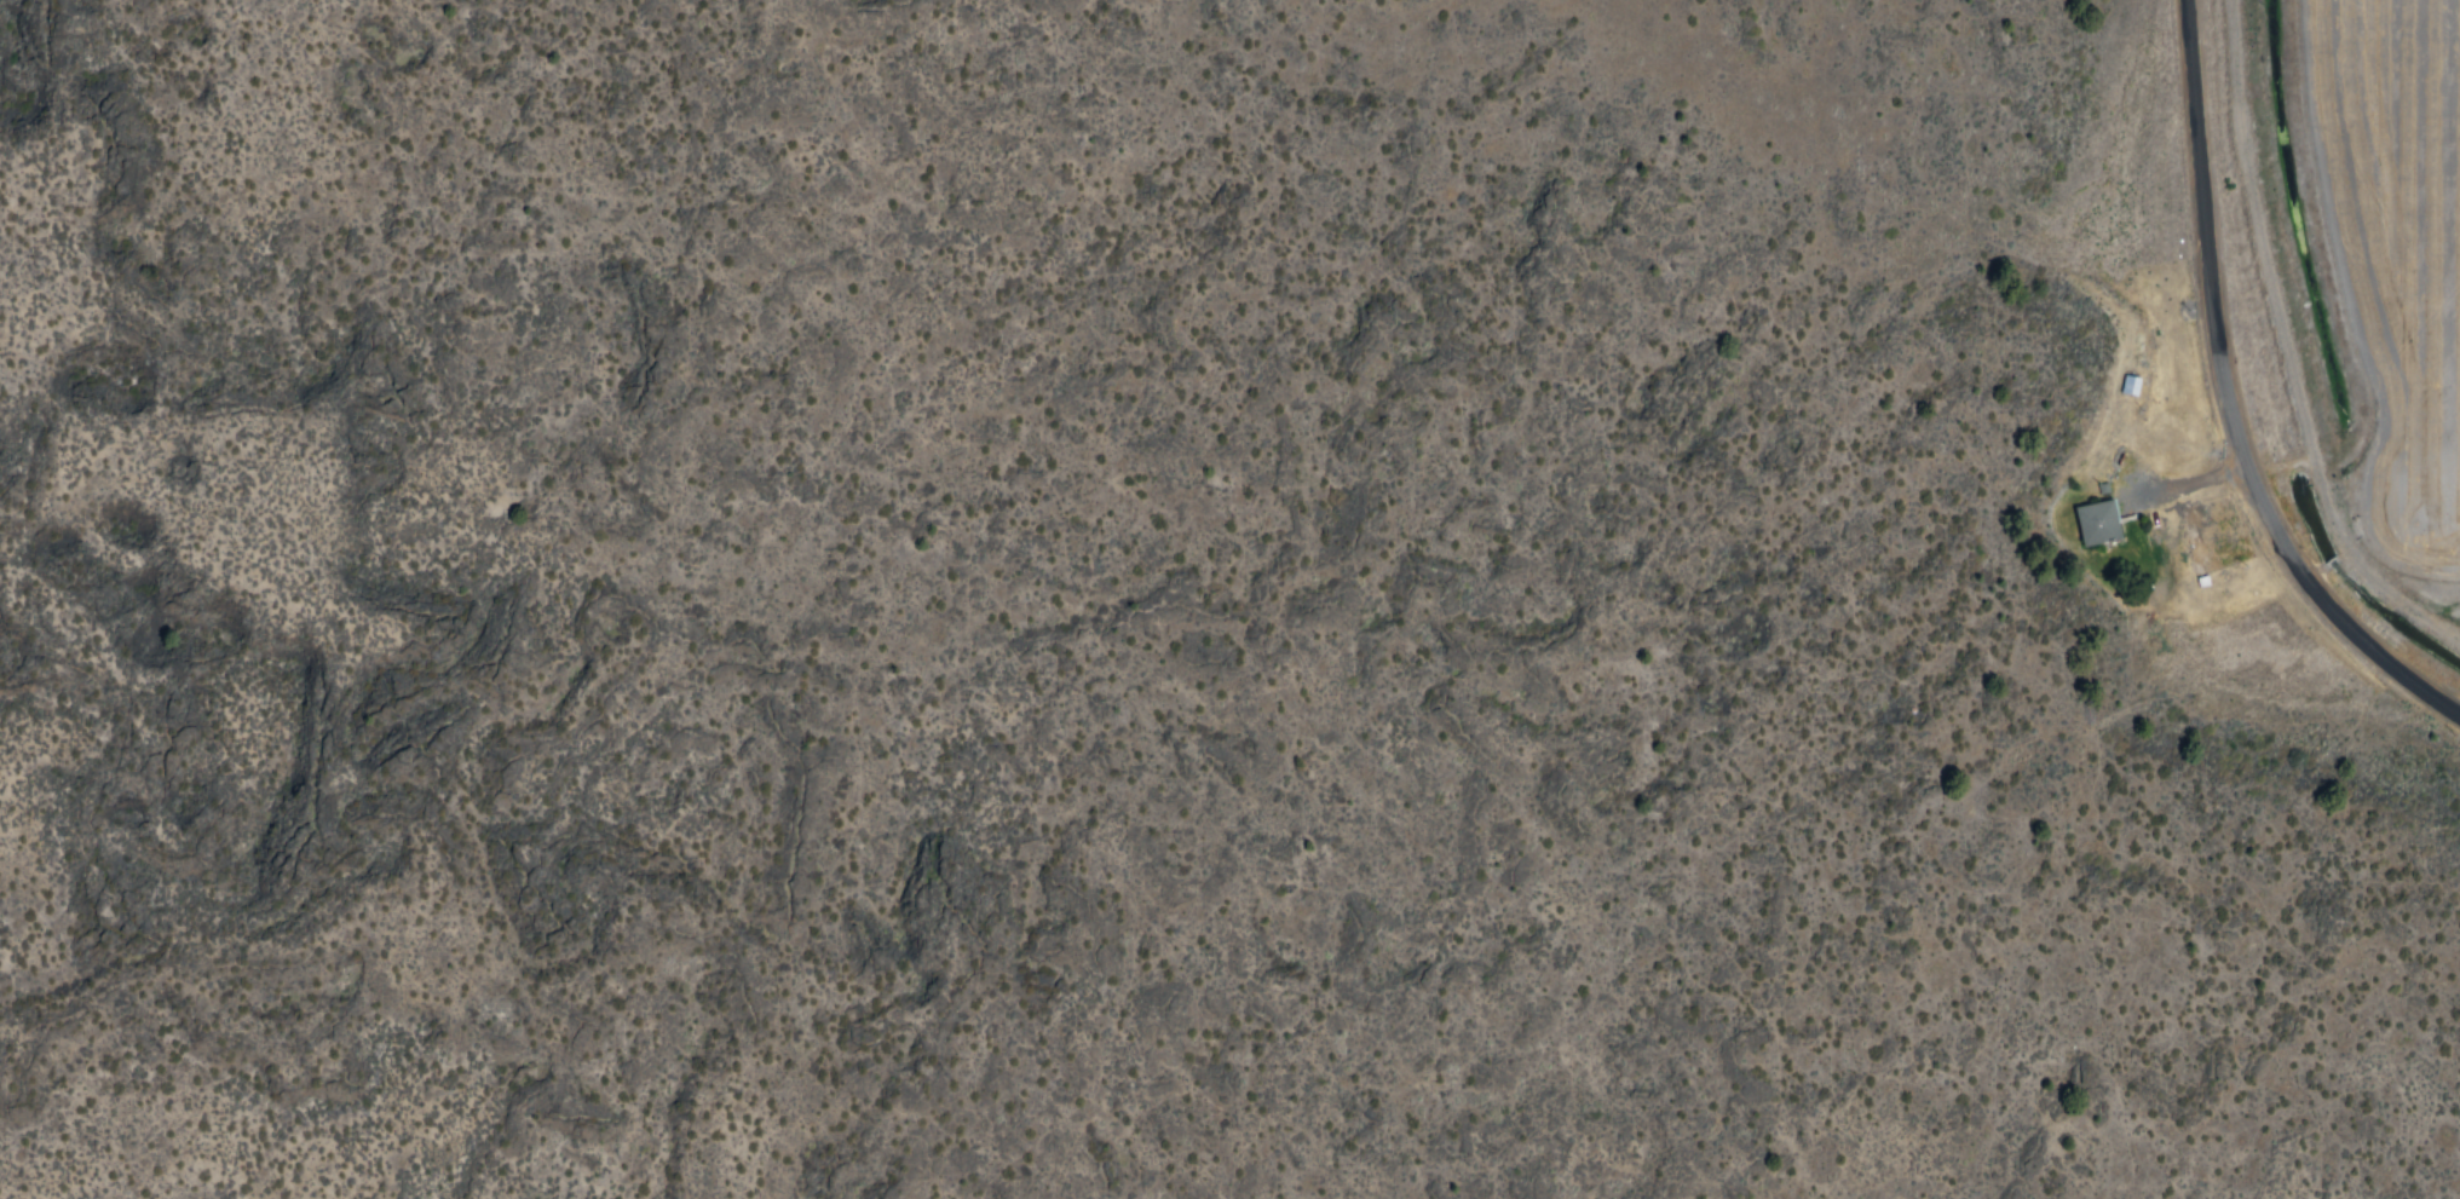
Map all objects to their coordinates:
crop: (2398, 252)
building: (2132, 382)
road: (2230, 399)
road: (2200, 477)
building: (2104, 520)

